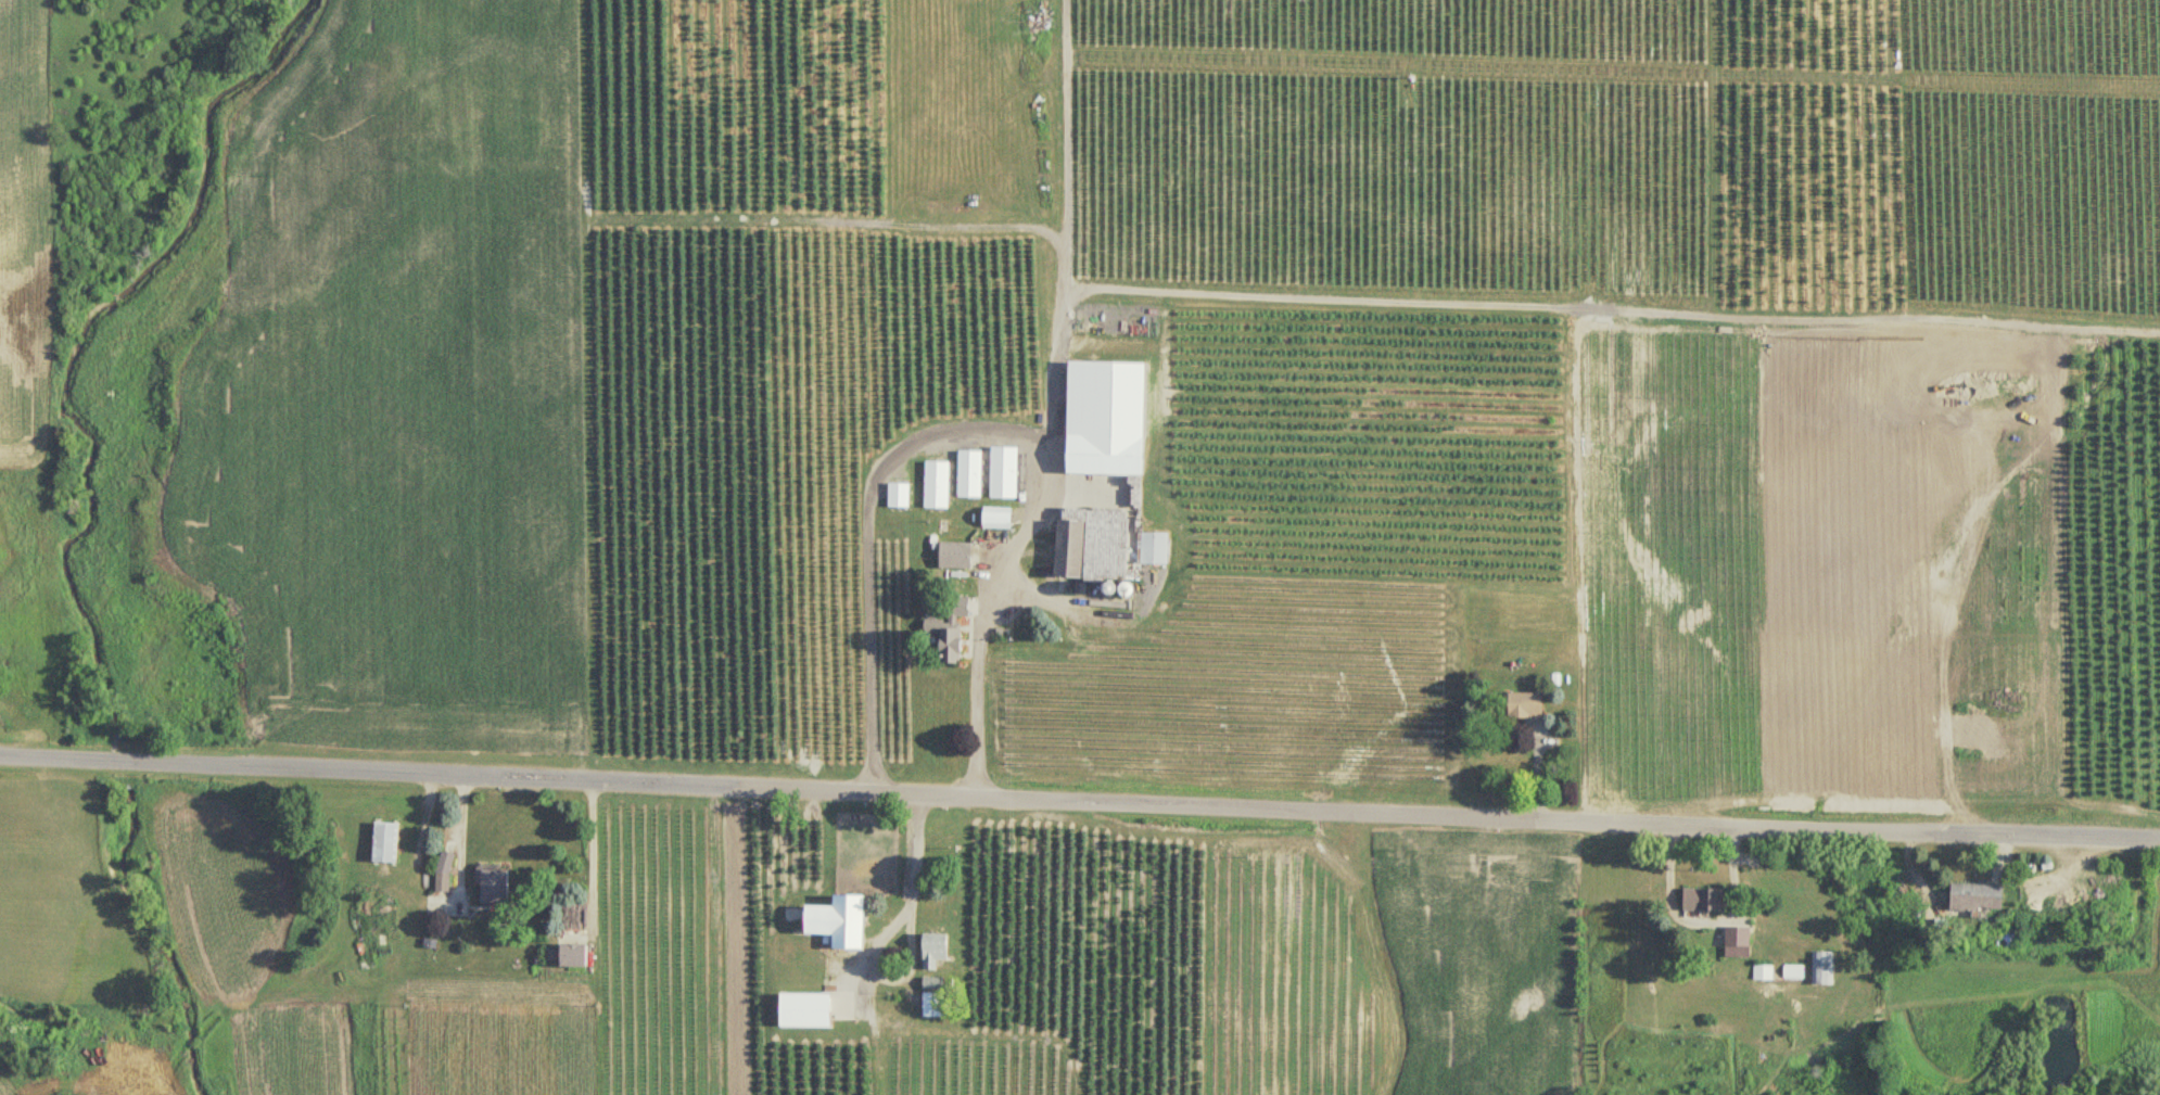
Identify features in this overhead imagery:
road: (976, 428)
building: (1105, 457)
building: (966, 481)
building: (992, 481)
building: (1025, 482)
building: (938, 486)
building: (1410, 491)
building: (899, 497)
building: (998, 521)
building: (1069, 550)
building: (1153, 550)
building: (956, 557)
building: (950, 636)
building: (1525, 706)
road: (1079, 800)
road: (456, 833)
building: (385, 843)
building: (445, 873)
building: (494, 887)
building: (1977, 896)
building: (1703, 900)
building: (838, 920)
road: (907, 937)
building: (1738, 943)
building: (933, 950)
building: (573, 955)
building: (1822, 968)
building: (1764, 972)
building: (1794, 972)
building: (933, 983)
building: (933, 1007)
building: (804, 1010)

